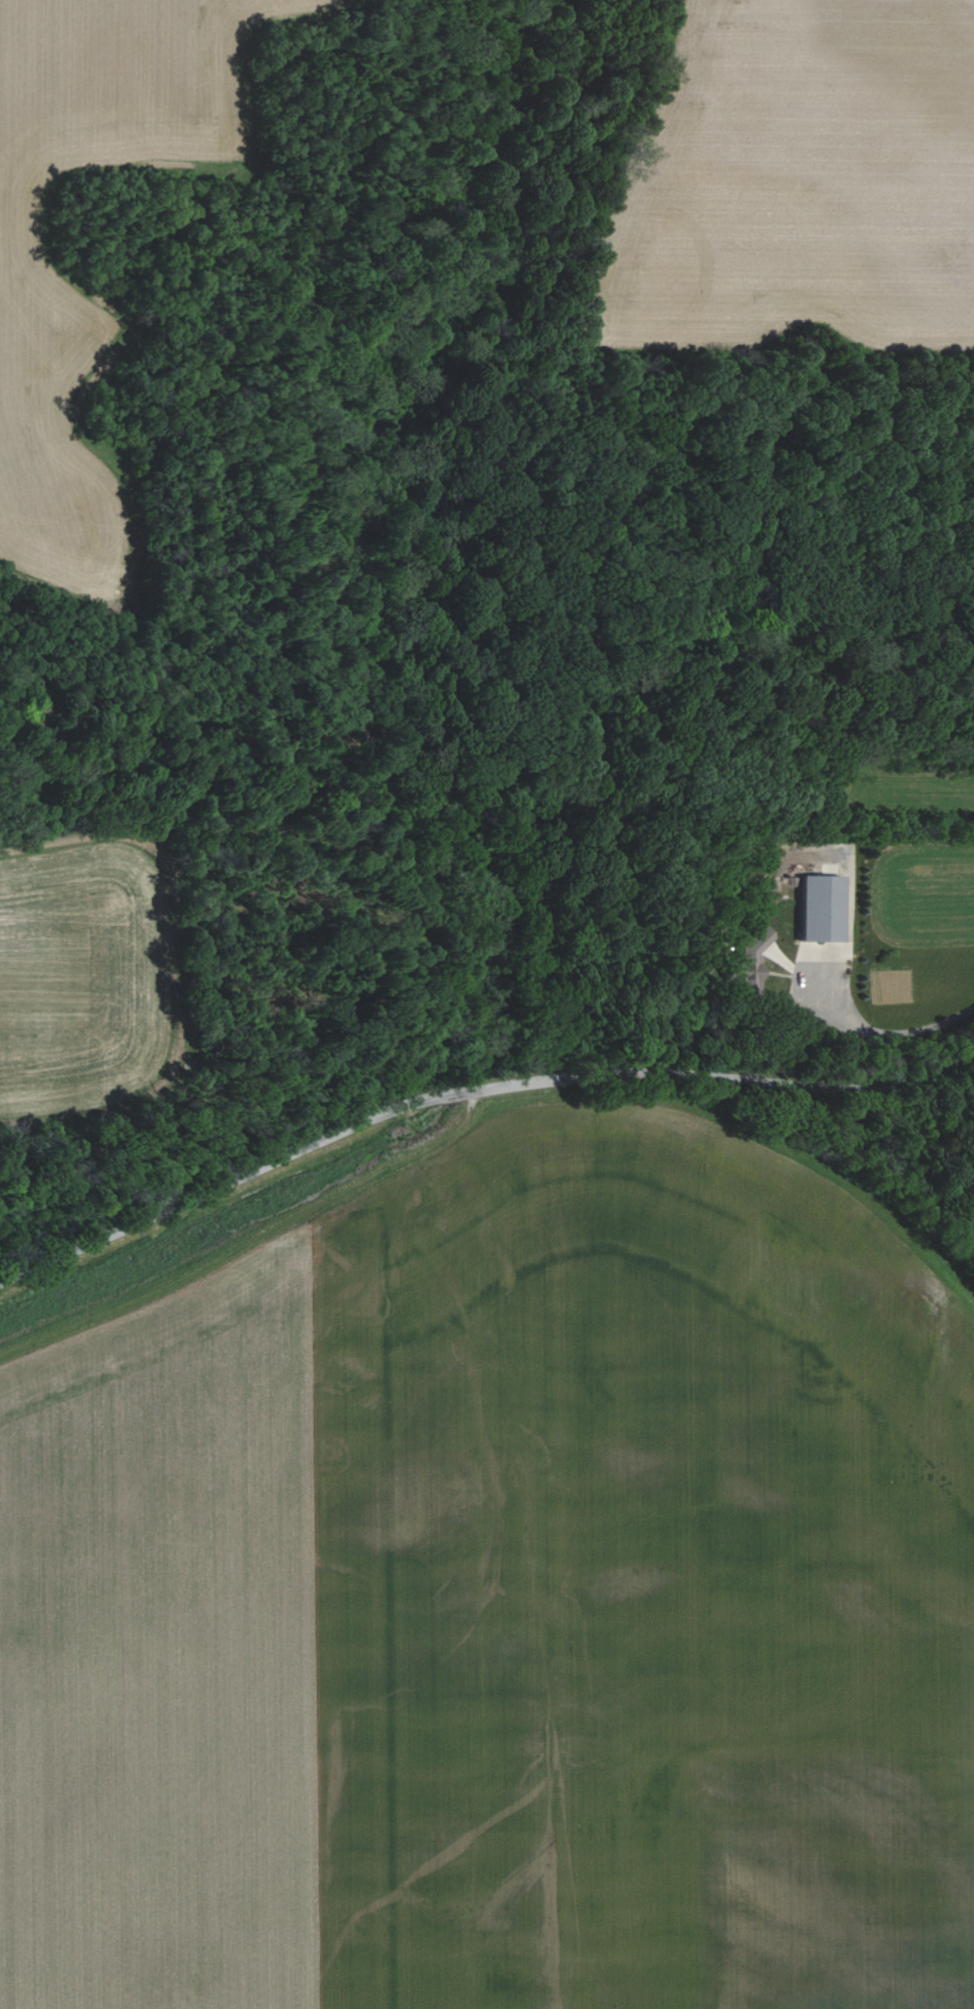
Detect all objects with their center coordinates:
building: (817, 909)
building: (745, 962)
road: (888, 1035)
road: (473, 1100)

